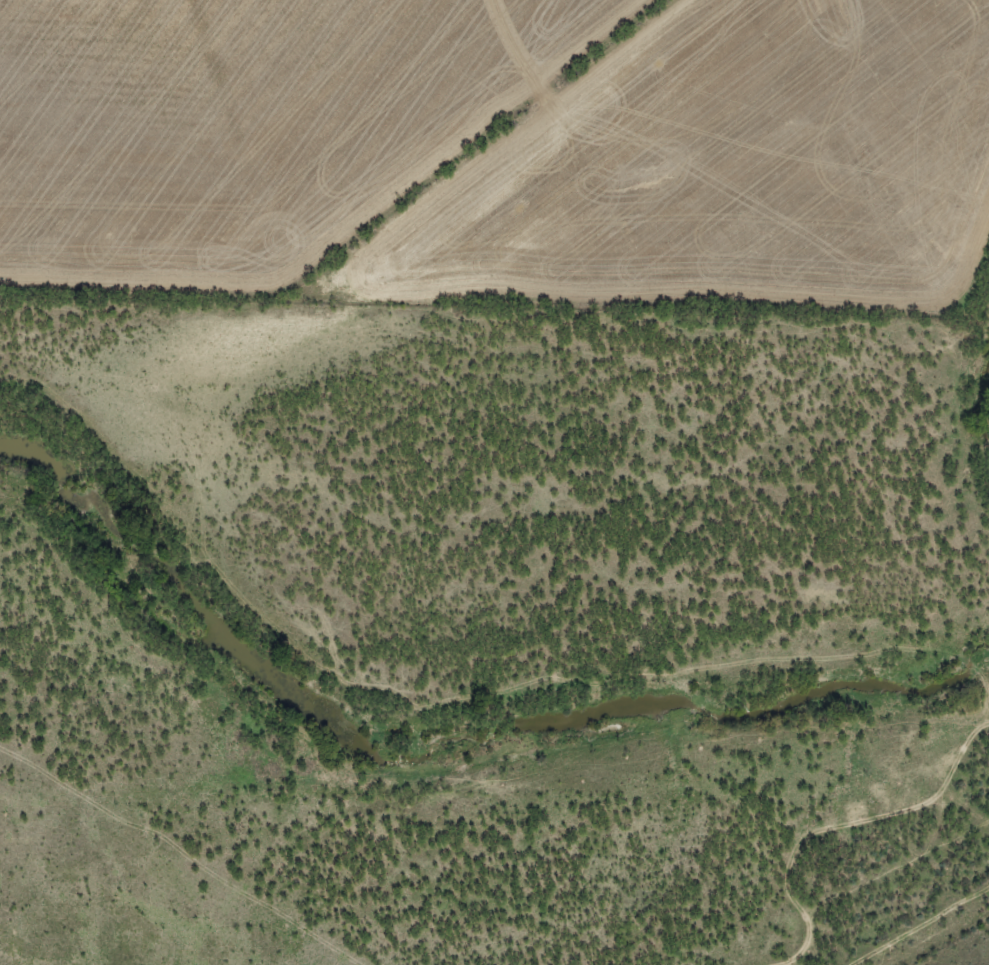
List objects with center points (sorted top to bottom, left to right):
railway: (908, 918)

